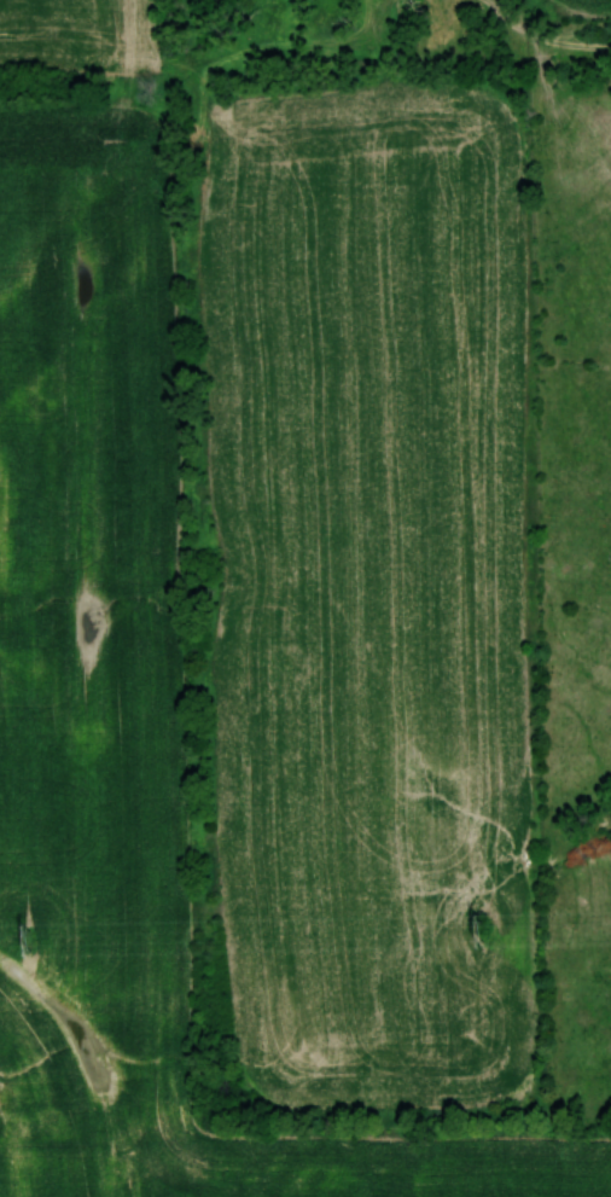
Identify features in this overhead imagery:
power tower: (481, 931)
power tower: (30, 941)

